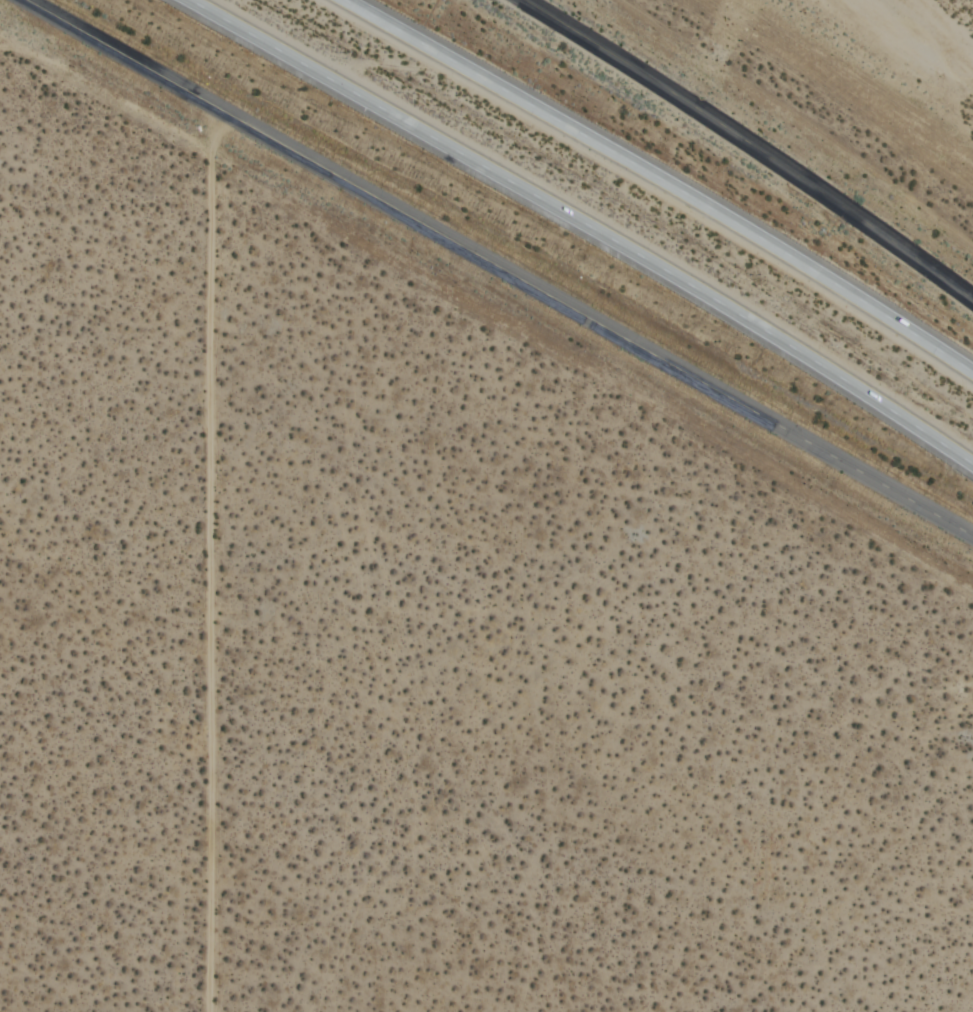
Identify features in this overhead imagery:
crop: (851, 82)
road: (751, 145)
road: (662, 181)
road: (585, 226)
road: (499, 268)
road: (205, 620)

